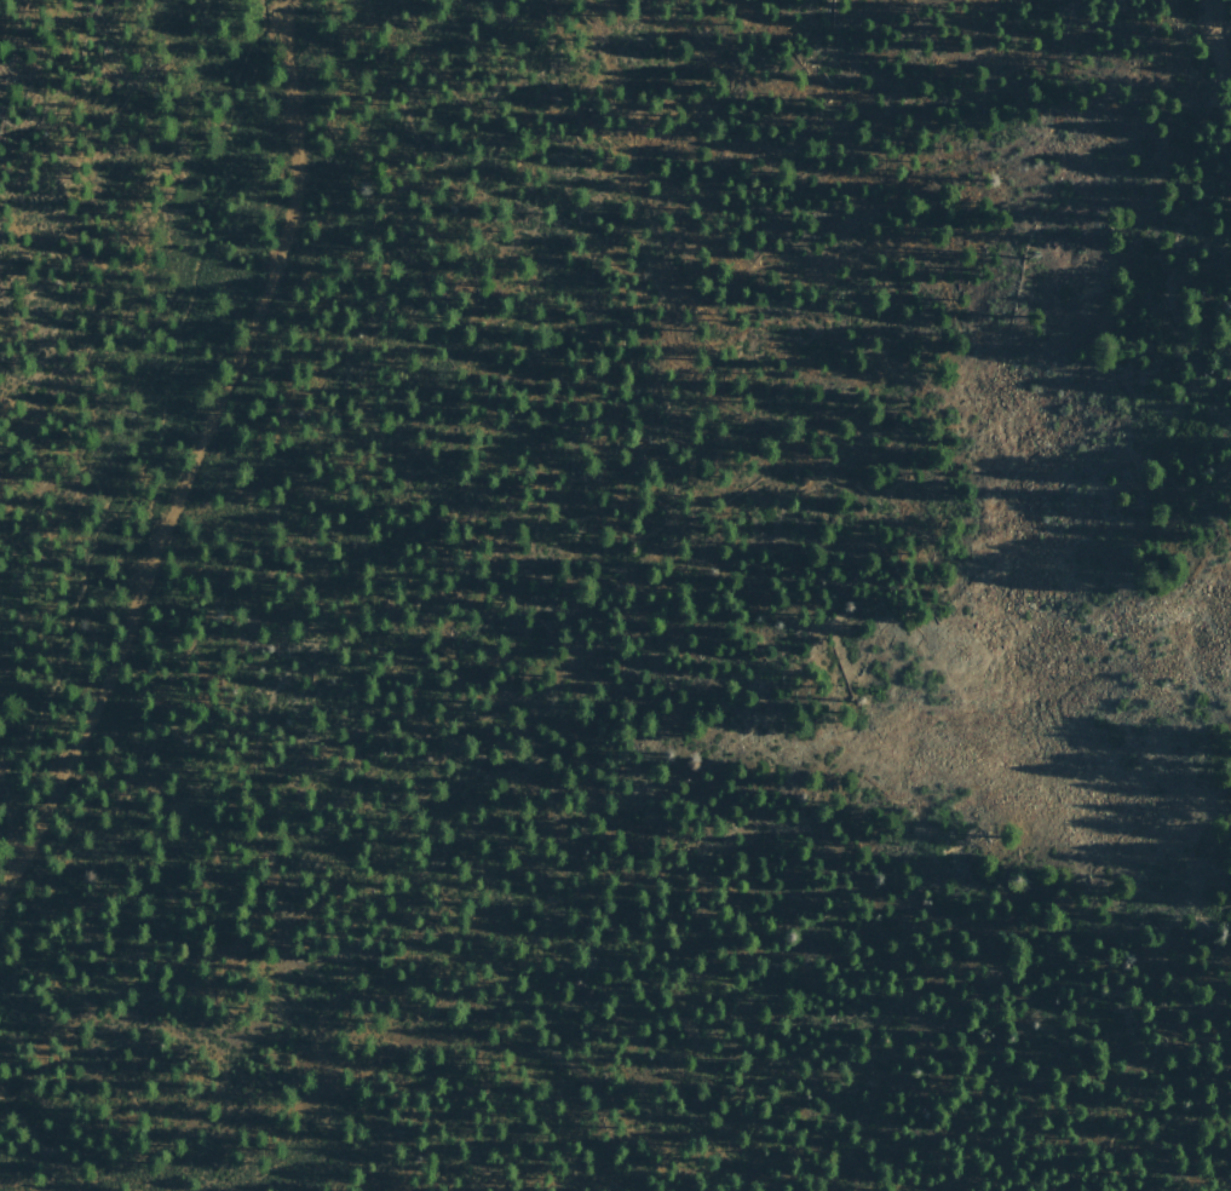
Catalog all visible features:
road: (62, 110)
road: (191, 461)

